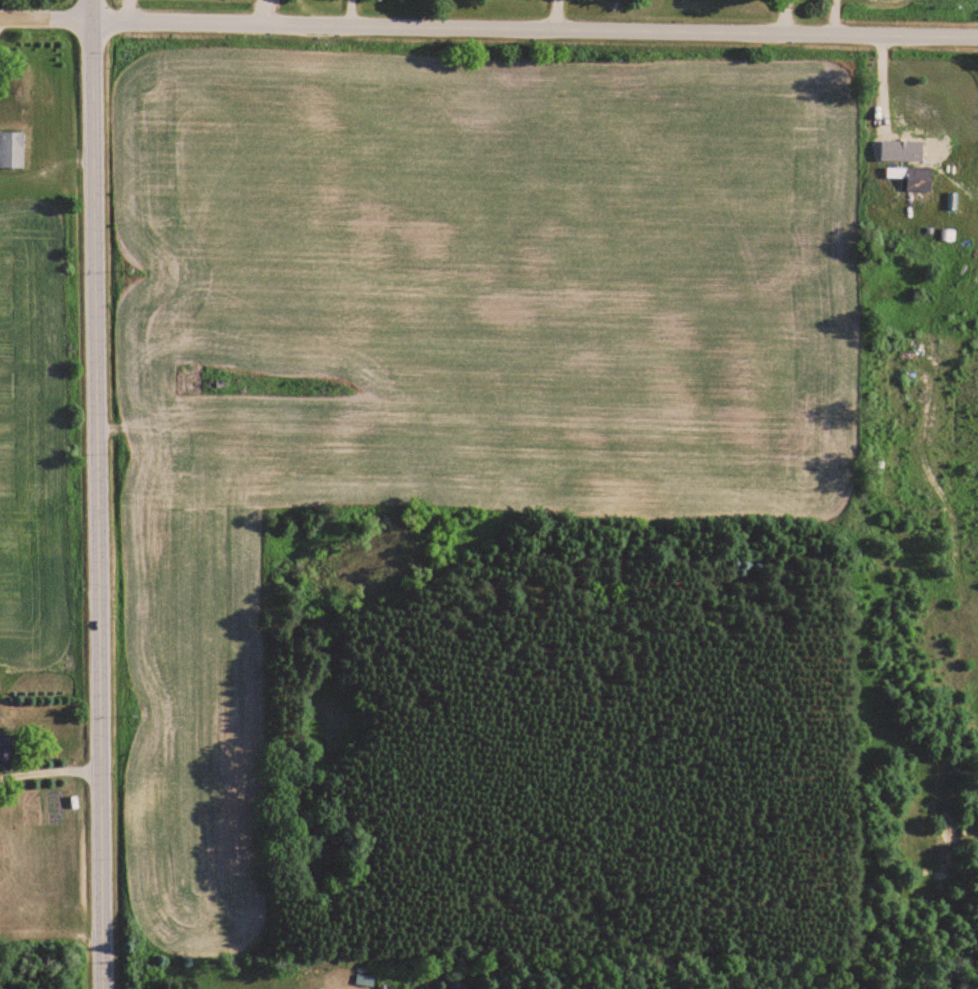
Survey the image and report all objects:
road: (489, 26)
building: (11, 150)
building: (912, 178)
road: (97, 494)
building: (7, 751)

